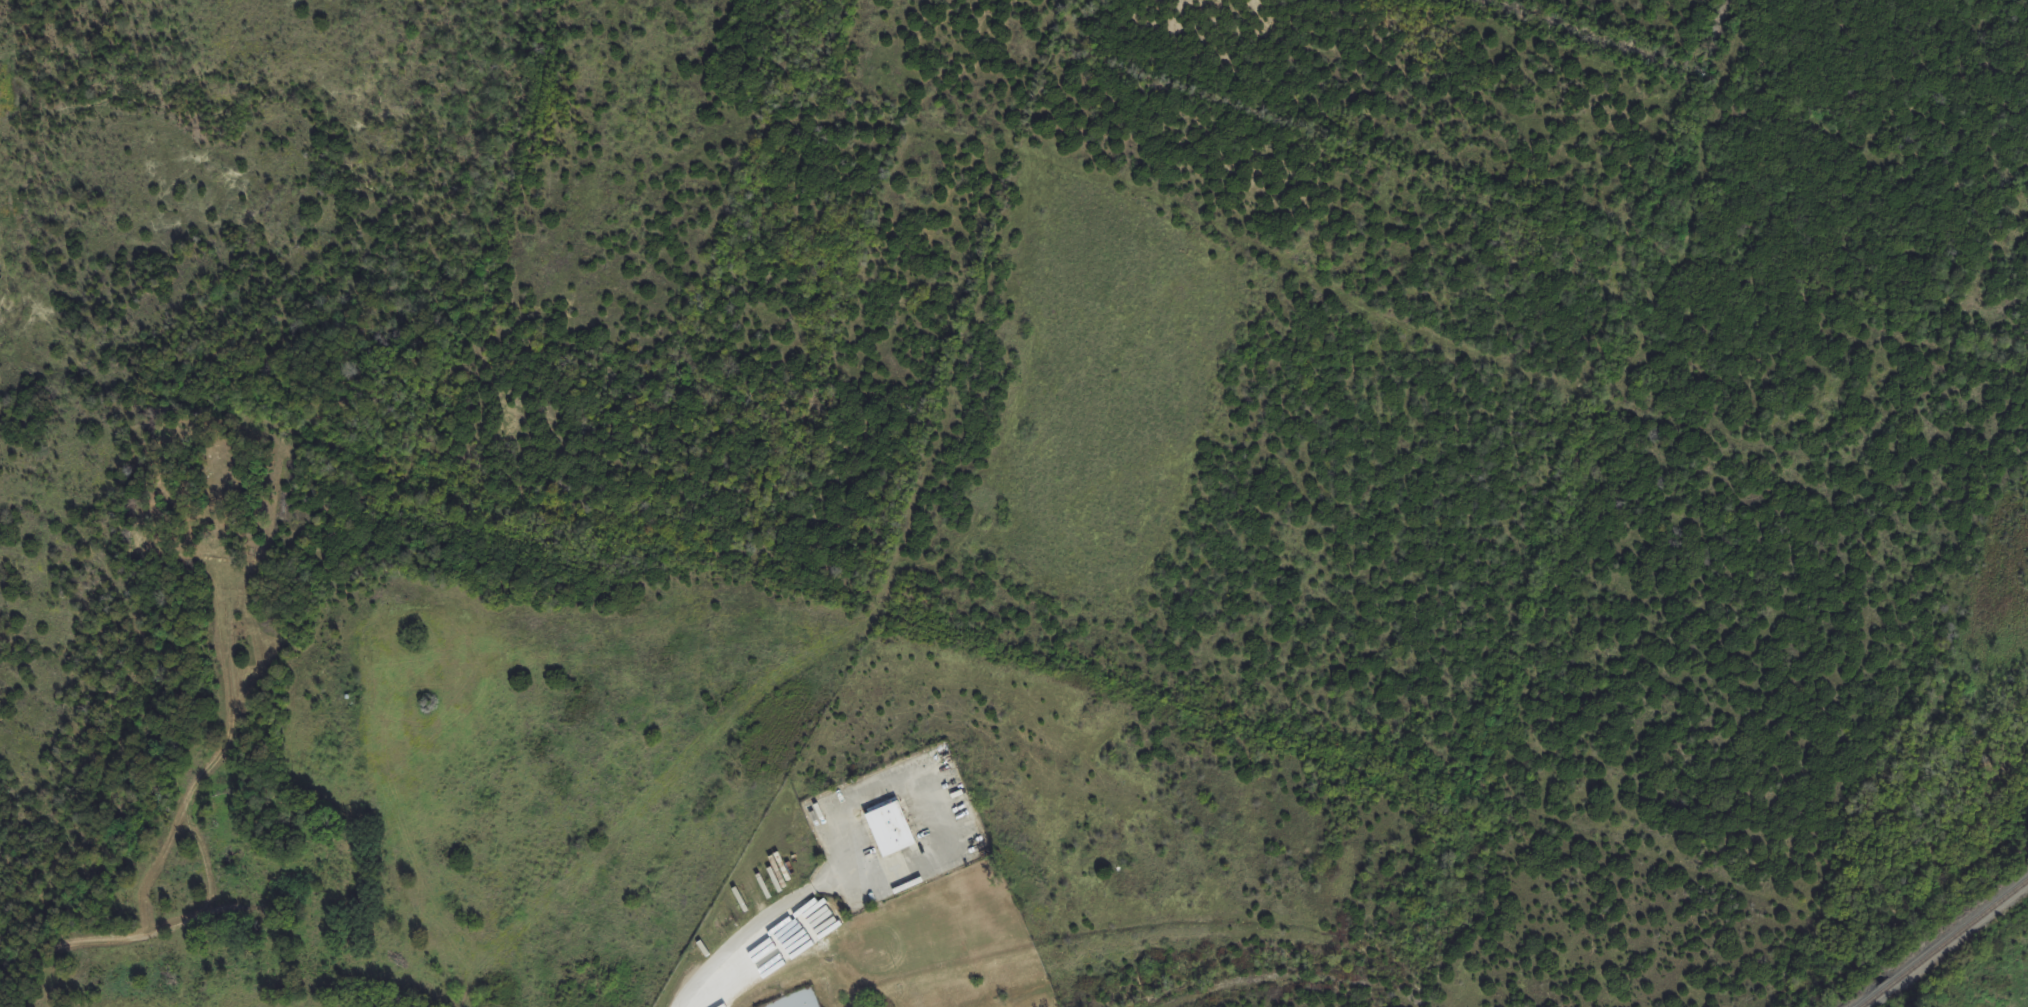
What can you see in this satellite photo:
road: (934, 786)
building: (891, 829)
road: (755, 925)
railway: (1947, 944)
building: (798, 1000)

